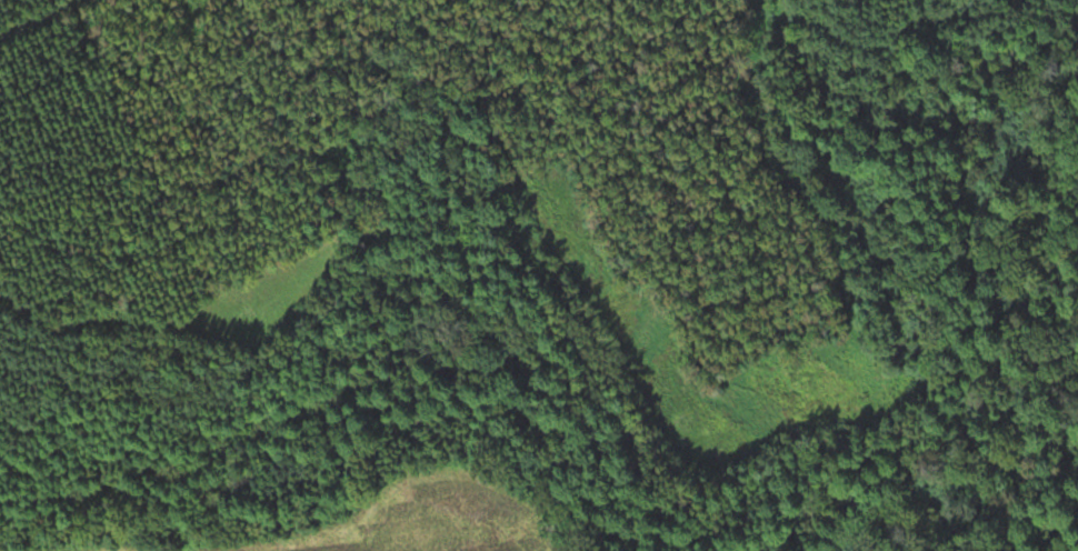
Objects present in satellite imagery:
road: (997, 36)

